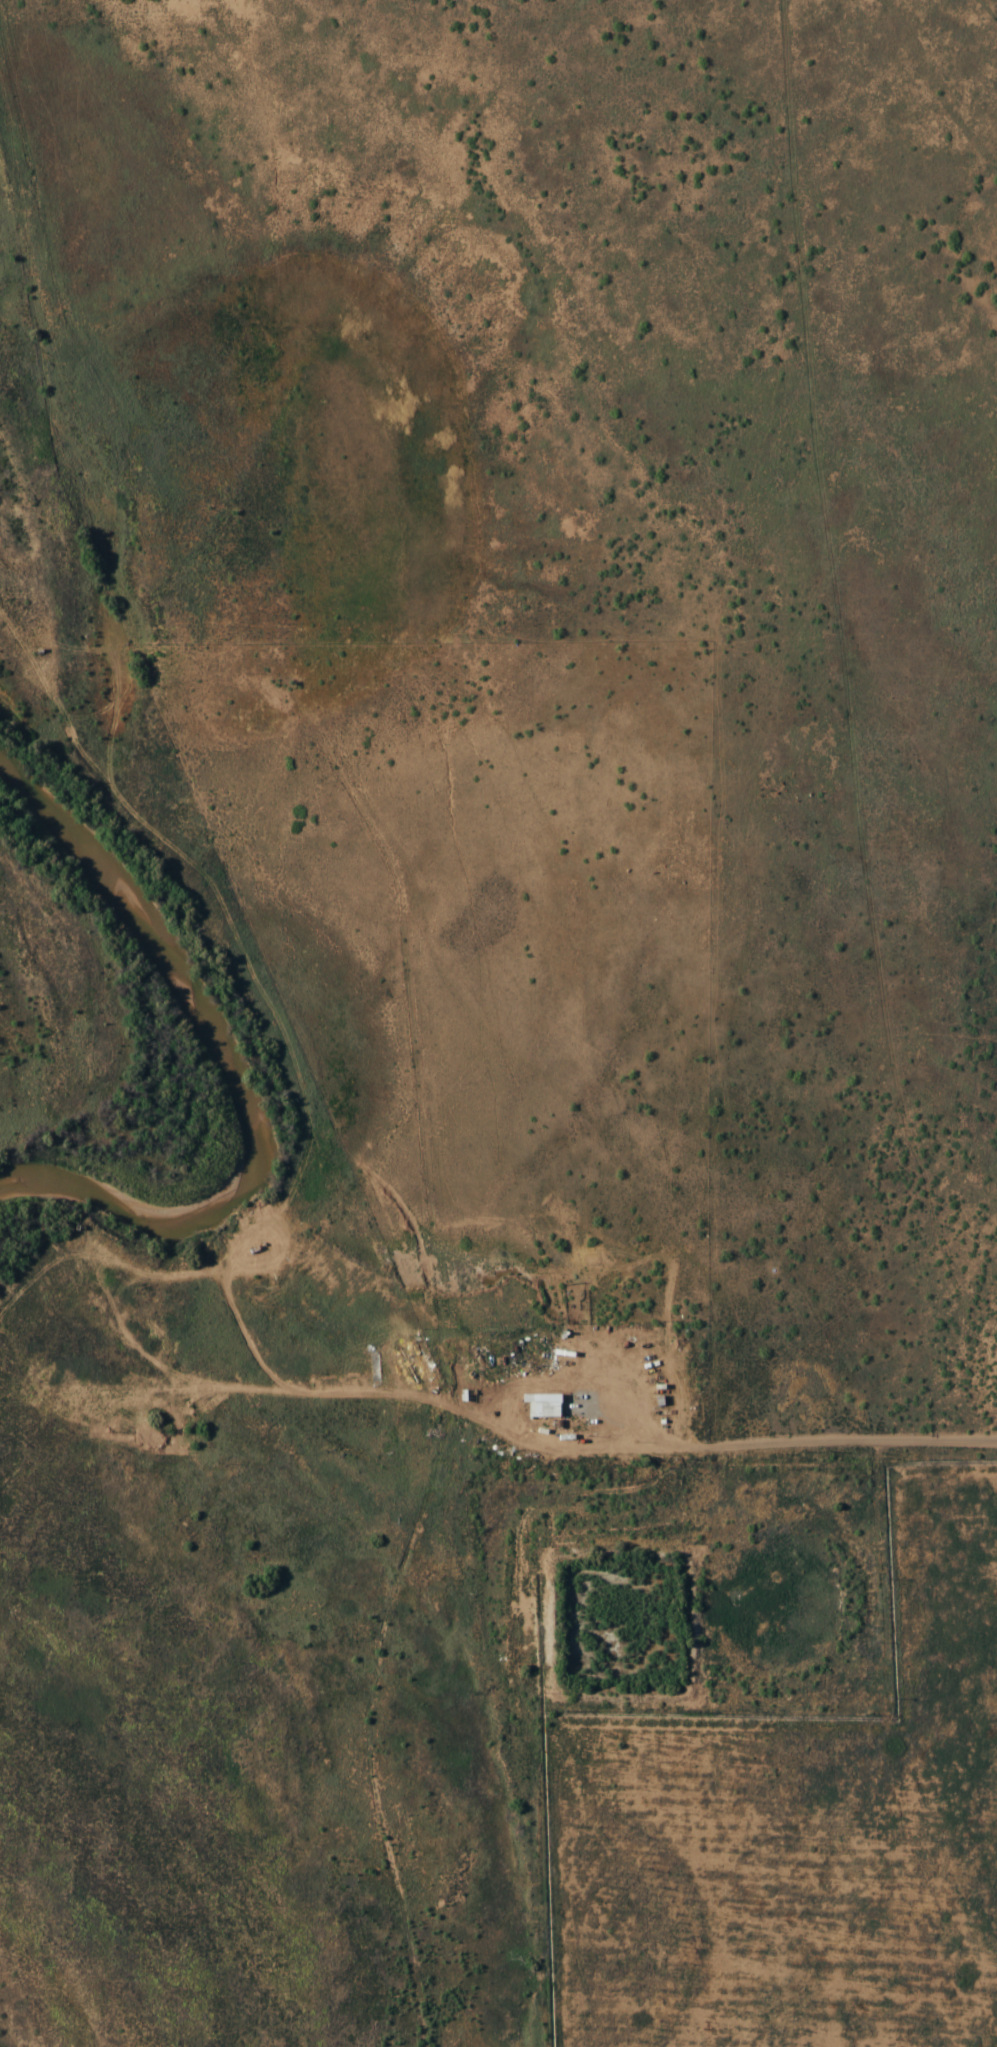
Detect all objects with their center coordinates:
river: (230, 1074)
building: (574, 1410)
road: (938, 1448)

